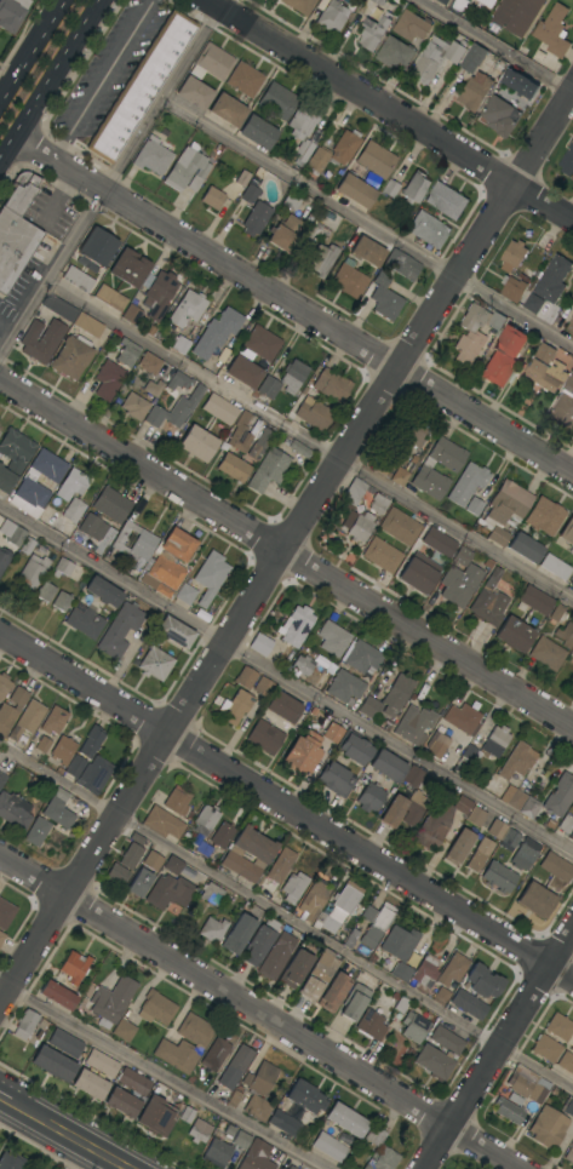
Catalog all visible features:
building: (378, 1)
building: (442, 1)
building: (483, 1)
building: (299, 5)
building: (458, 6)
building: (12, 13)
building: (516, 15)
building: (332, 17)
building: (409, 25)
building: (373, 31)
building: (552, 31)
road: (497, 45)
road: (29, 48)
building: (392, 52)
building: (436, 57)
building: (471, 57)
building: (211, 62)
road: (48, 78)
road: (103, 78)
building: (245, 79)
building: (518, 84)
building: (141, 86)
building: (474, 91)
building: (194, 92)
building: (277, 101)
building: (227, 110)
road: (389, 113)
building: (497, 115)
building: (302, 121)
building: (257, 132)
building: (303, 150)
building: (333, 153)
building: (151, 155)
building: (567, 159)
building: (376, 160)
building: (187, 171)
road: (110, 176)
building: (240, 177)
building: (389, 188)
building: (414, 188)
building: (354, 190)
building: (19, 193)
building: (250, 194)
building: (212, 197)
building: (292, 200)
building: (445, 200)
building: (256, 218)
road: (367, 219)
building: (426, 229)
building: (311, 231)
building: (285, 233)
building: (21, 247)
building: (96, 248)
building: (367, 251)
building: (511, 256)
building: (321, 259)
building: (401, 264)
building: (128, 268)
building: (78, 279)
building: (349, 279)
building: (551, 279)
building: (511, 288)
building: (160, 293)
building: (110, 297)
building: (384, 297)
building: (572, 297)
building: (532, 303)
road: (293, 304)
building: (187, 308)
building: (132, 314)
building: (74, 316)
building: (569, 326)
road: (6, 330)
building: (216, 332)
building: (474, 332)
building: (41, 340)
building: (262, 343)
building: (181, 344)
building: (126, 353)
building: (544, 353)
building: (71, 355)
building: (503, 355)
building: (148, 363)
building: (242, 372)
building: (545, 374)
building: (292, 376)
building: (108, 379)
building: (178, 380)
building: (331, 385)
building: (153, 388)
building: (268, 388)
building: (134, 406)
building: (565, 406)
building: (219, 408)
building: (173, 409)
building: (314, 414)
building: (240, 432)
building: (412, 434)
road: (310, 439)
building: (197, 442)
building: (259, 445)
building: (298, 448)
building: (13, 457)
building: (413, 459)
building: (48, 465)
building: (382, 465)
building: (408, 466)
building: (233, 468)
building: (268, 470)
building: (425, 471)
building: (399, 476)
building: (466, 483)
building: (71, 485)
building: (354, 492)
building: (29, 497)
building: (111, 504)
building: (377, 504)
building: (474, 505)
building: (73, 510)
building: (504, 510)
building: (350, 515)
building: (544, 516)
building: (360, 527)
building: (399, 527)
building: (96, 528)
building: (567, 532)
building: (10, 541)
building: (134, 543)
building: (439, 543)
building: (27, 545)
road: (281, 548)
building: (525, 548)
road: (286, 555)
building: (382, 555)
building: (462, 556)
building: (166, 561)
building: (62, 567)
building: (555, 567)
building: (33, 572)
building: (419, 573)
building: (210, 577)
building: (492, 579)
building: (459, 584)
building: (572, 585)
building: (45, 591)
building: (102, 591)
building: (185, 594)
building: (535, 600)
building: (61, 601)
building: (488, 606)
building: (557, 614)
building: (84, 620)
building: (296, 625)
building: (119, 630)
building: (173, 632)
building: (514, 634)
building: (565, 634)
building: (332, 638)
building: (260, 644)
building: (572, 648)
building: (546, 653)
building: (362, 657)
building: (154, 663)
building: (302, 665)
building: (245, 677)
road: (285, 680)
building: (4, 684)
building: (344, 686)
building: (263, 687)
building: (388, 699)
building: (235, 706)
building: (282, 706)
building: (11, 709)
building: (463, 718)
building: (27, 720)
building: (53, 720)
building: (411, 727)
building: (333, 733)
building: (264, 737)
building: (91, 741)
building: (42, 744)
building: (436, 745)
building: (487, 745)
building: (355, 749)
building: (62, 750)
building: (303, 752)
building: (516, 761)
building: (74, 766)
building: (386, 766)
building: (2, 775)
building: (93, 775)
building: (413, 777)
building: (334, 779)
building: (560, 795)
building: (369, 797)
building: (512, 797)
building: (177, 801)
building: (59, 808)
road: (286, 808)
building: (528, 808)
building: (403, 809)
building: (13, 810)
building: (205, 819)
building: (445, 821)
building: (162, 823)
building: (567, 826)
building: (35, 829)
building: (497, 829)
building: (222, 835)
building: (509, 839)
building: (458, 847)
building: (204, 848)
building: (247, 854)
building: (479, 854)
building: (525, 854)
building: (130, 855)
building: (151, 861)
building: (172, 865)
building: (280, 865)
building: (556, 866)
building: (116, 875)
building: (498, 876)
building: (138, 882)
building: (293, 887)
building: (168, 892)
building: (211, 894)
building: (314, 900)
building: (535, 900)
building: (338, 906)
building: (5, 913)
road: (286, 917)
building: (376, 922)
building: (212, 929)
building: (237, 934)
building: (1, 936)
building: (350, 938)
building: (259, 941)
building: (399, 942)
building: (276, 956)
building: (74, 967)
building: (296, 969)
building: (452, 969)
building: (400, 972)
building: (424, 974)
building: (316, 975)
building: (482, 981)
building: (332, 991)
building: (57, 995)
building: (441, 996)
building: (111, 998)
building: (354, 1002)
building: (399, 1002)
building: (468, 1004)
building: (155, 1008)
road: (260, 1012)
building: (24, 1024)
building: (369, 1025)
building: (413, 1027)
building: (561, 1028)
building: (124, 1030)
building: (446, 1039)
road: (497, 1041)
building: (64, 1043)
building: (185, 1043)
building: (545, 1048)
building: (214, 1054)
building: (432, 1062)
building: (566, 1062)
building: (53, 1064)
building: (235, 1067)
road: (166, 1073)
building: (94, 1075)
building: (264, 1079)
building: (133, 1081)
building: (527, 1084)
building: (235, 1095)
building: (304, 1096)
road: (0, 1101)
building: (121, 1102)
building: (568, 1106)
building: (257, 1108)
building: (508, 1111)
building: (187, 1114)
building: (156, 1116)
building: (345, 1119)
building: (283, 1123)
building: (224, 1128)
building: (548, 1128)
building: (197, 1131)
road: (62, 1135)
building: (374, 1136)
building: (344, 1139)
building: (241, 1140)
building: (328, 1146)
building: (216, 1153)
building: (568, 1154)
building: (256, 1156)
building: (382, 1159)
building: (10, 1161)
building: (291, 1167)
building: (276, 1168)
building: (280, 1168)
building: (449, 1168)

